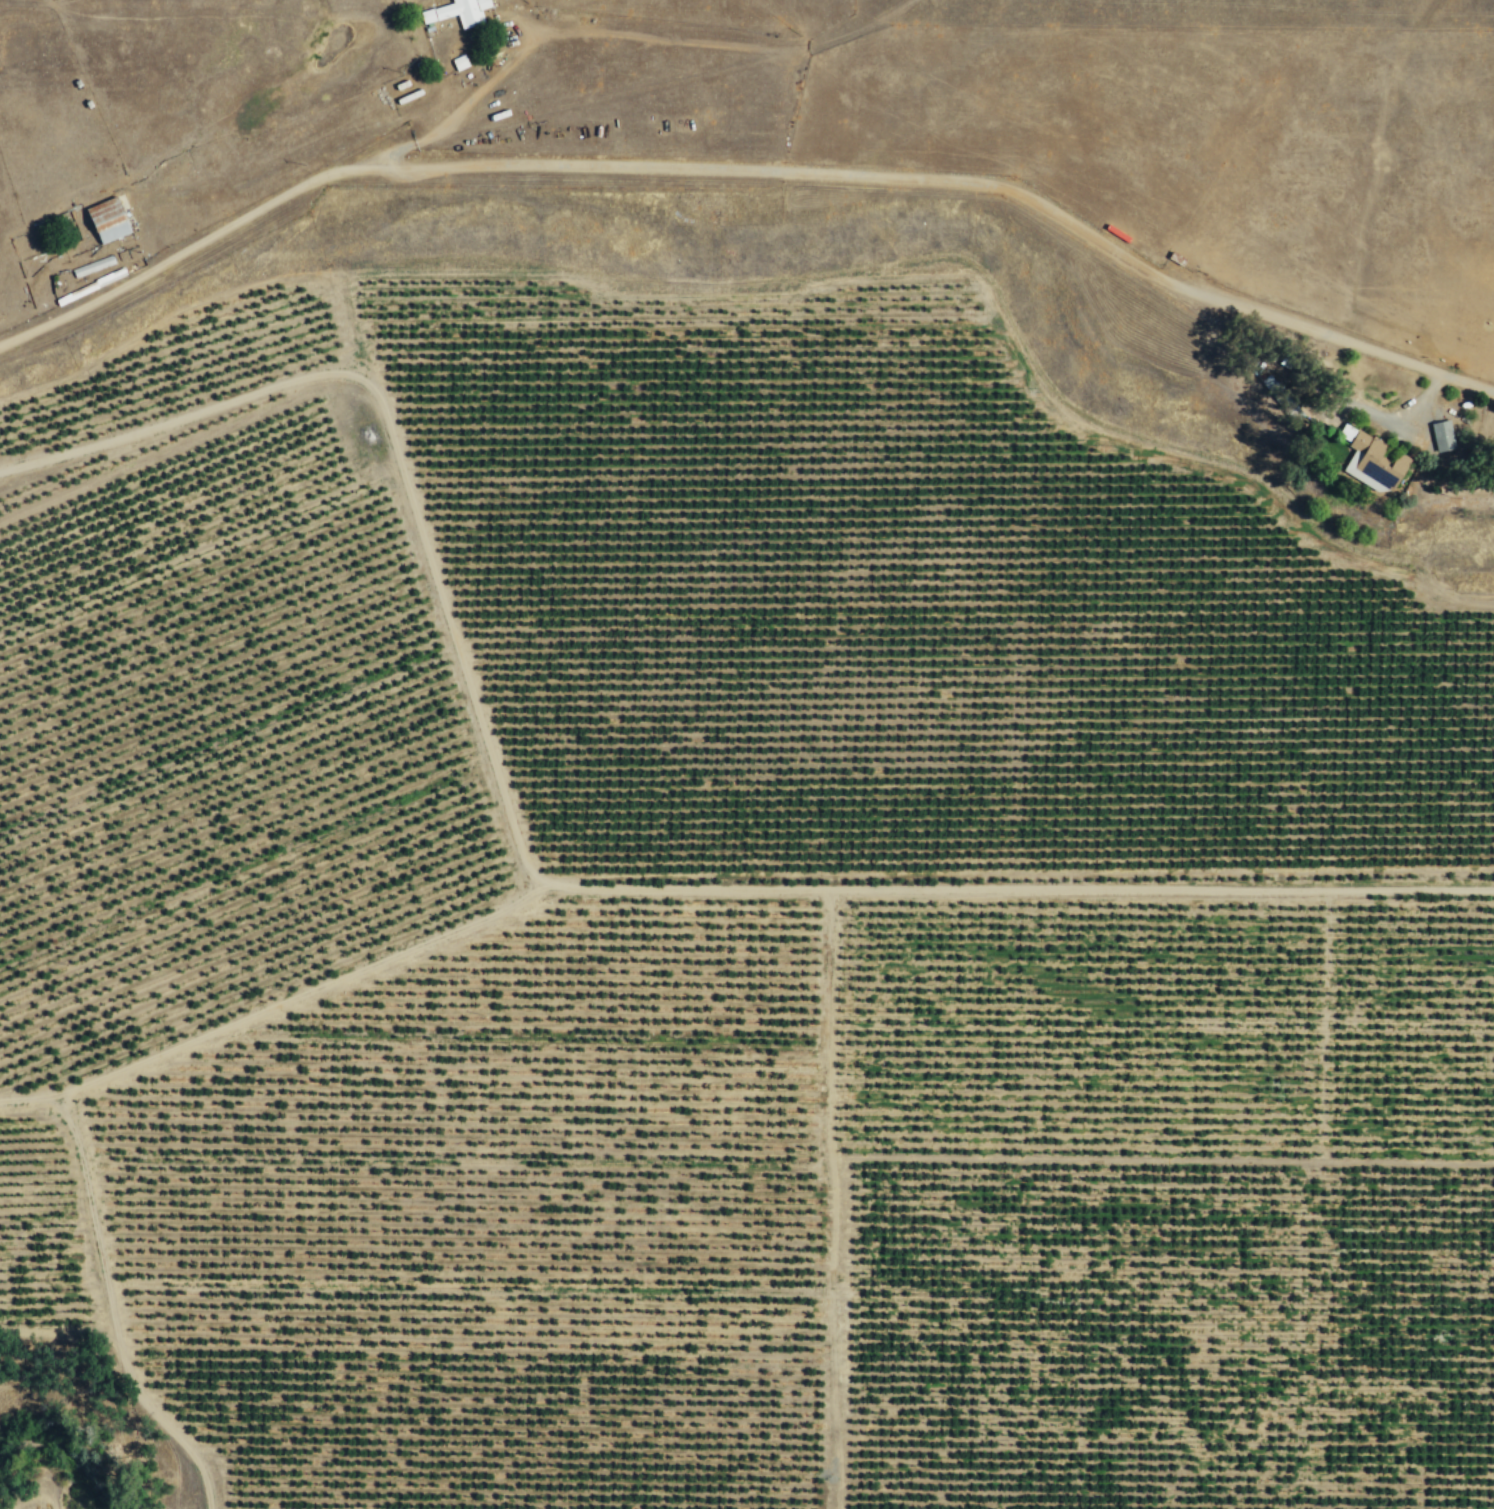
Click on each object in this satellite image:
building: (459, 12)
road: (718, 43)
road: (464, 100)
road: (953, 181)
building: (109, 219)
road: (183, 253)
building: (95, 265)
building: (103, 281)
building: (1440, 436)
road: (560, 885)
river: (73, 1444)

